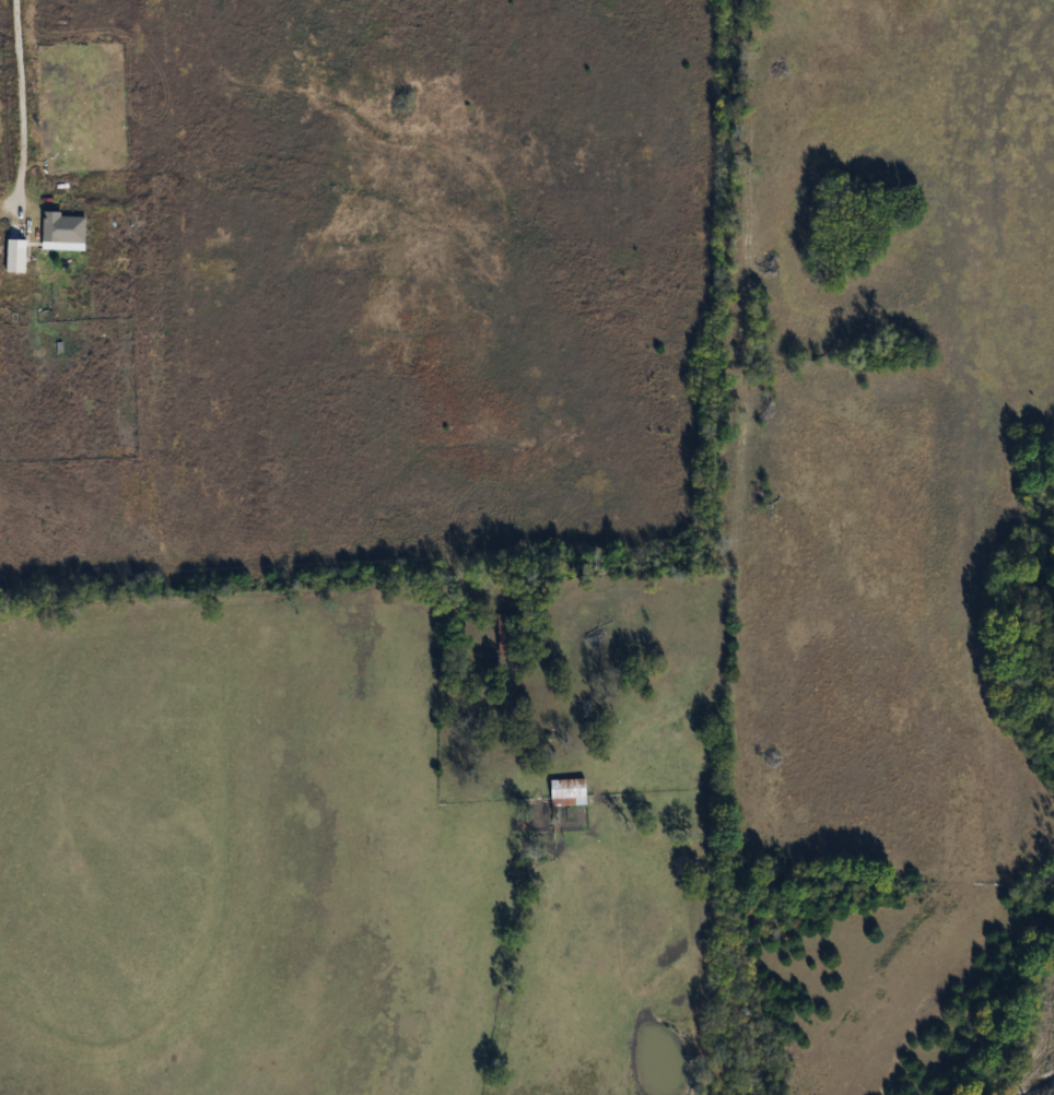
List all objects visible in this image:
road: (13, 97)
building: (67, 229)
building: (19, 254)
building: (507, 633)
building: (570, 791)

